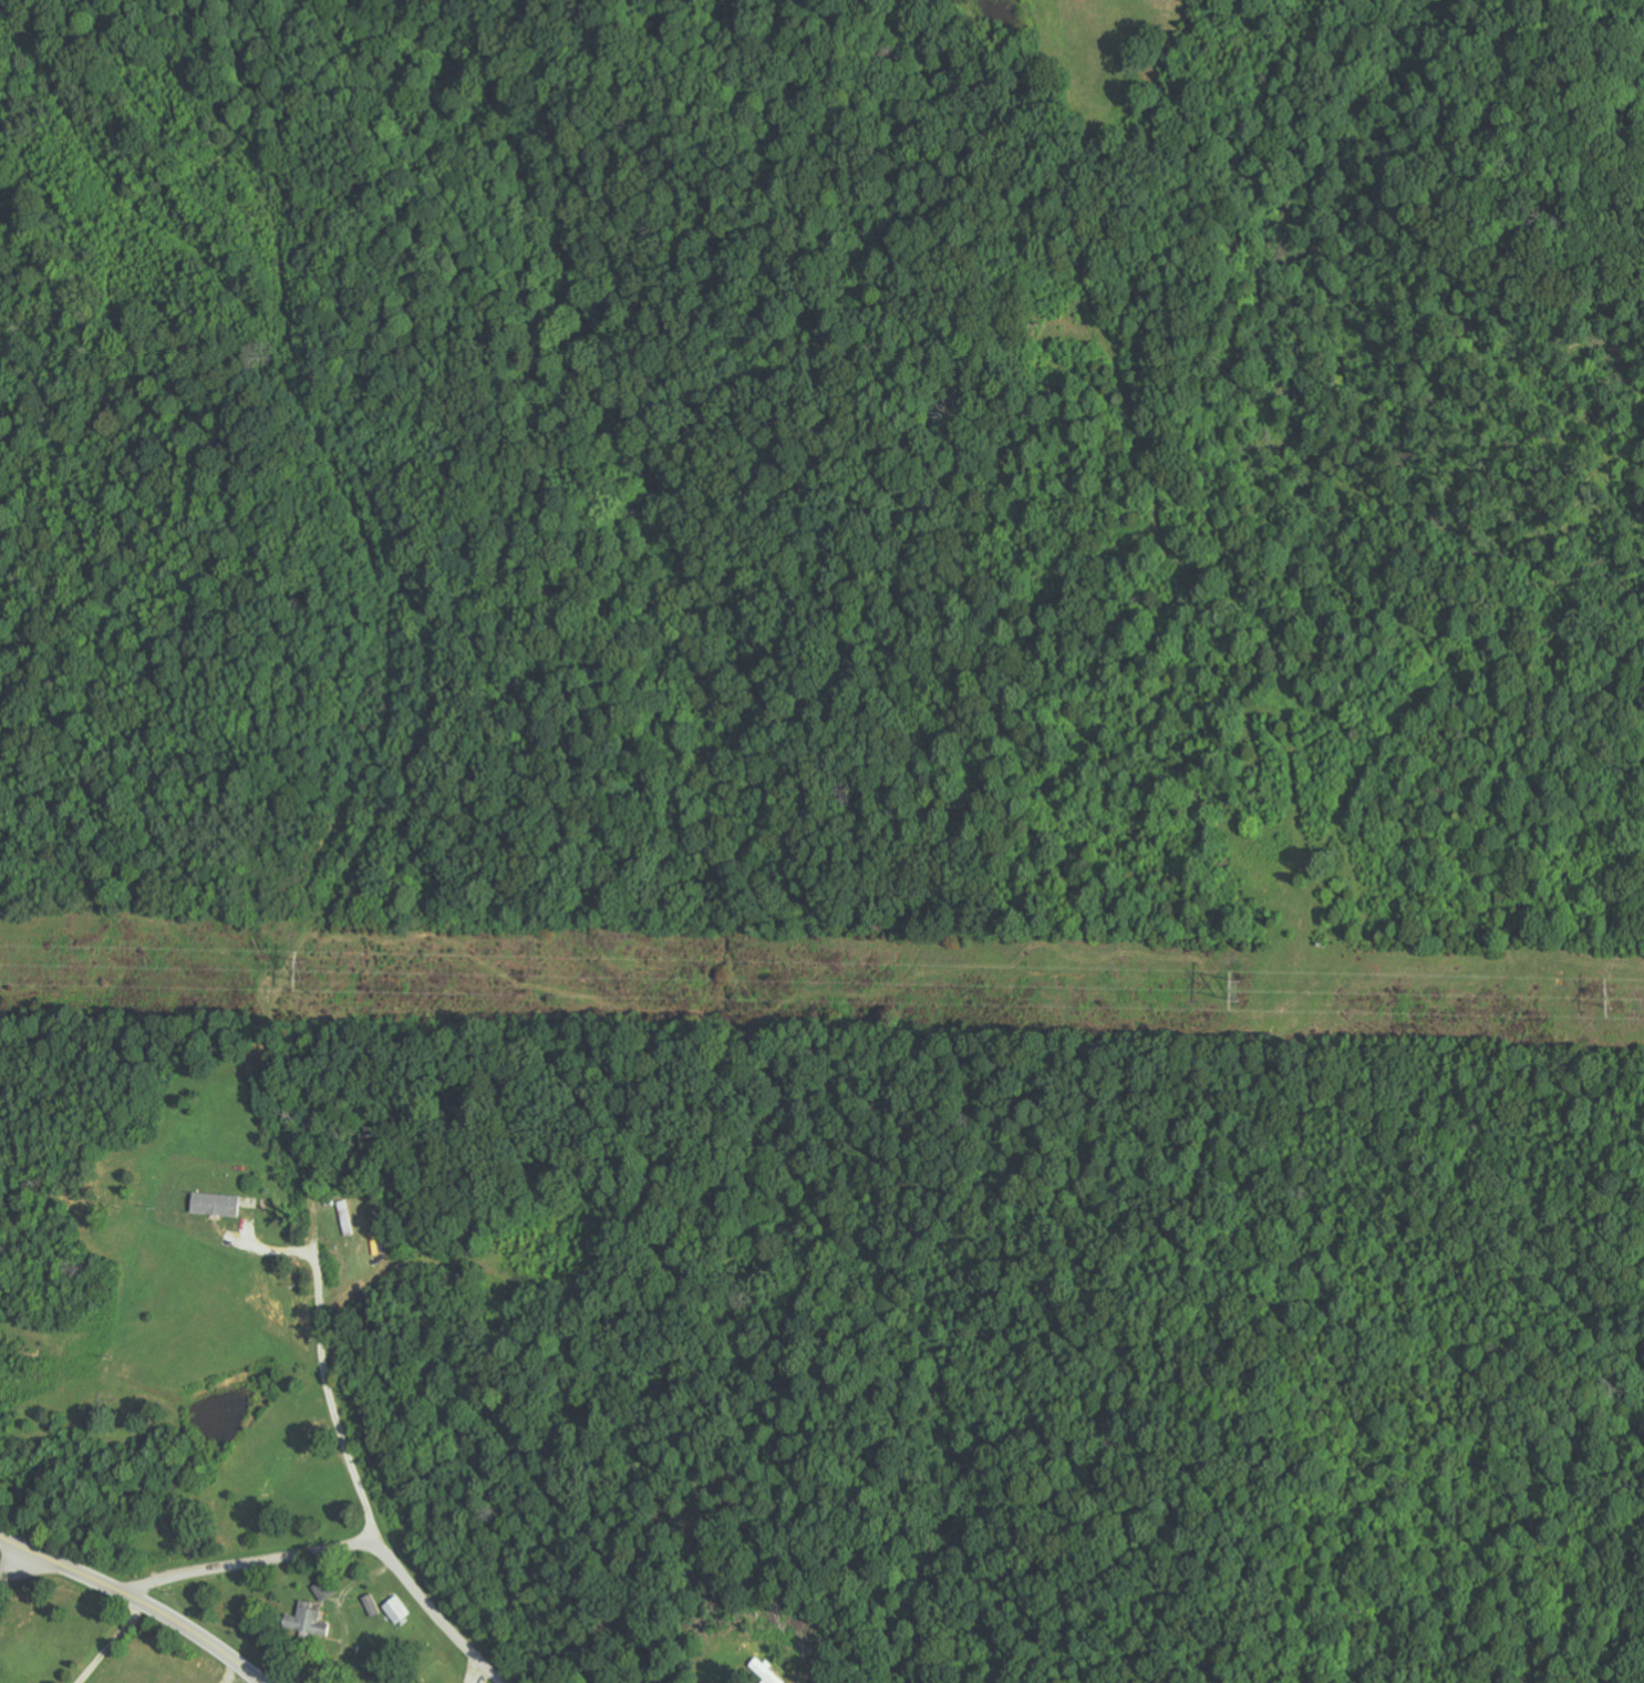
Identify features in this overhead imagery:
power tower: (299, 968)
power tower: (1244, 987)
power tower: (1617, 995)
building: (210, 1202)
road: (352, 1468)
road: (32, 1568)
road: (158, 1579)
road: (137, 1596)
building: (395, 1609)
building: (307, 1620)
building: (765, 1671)

